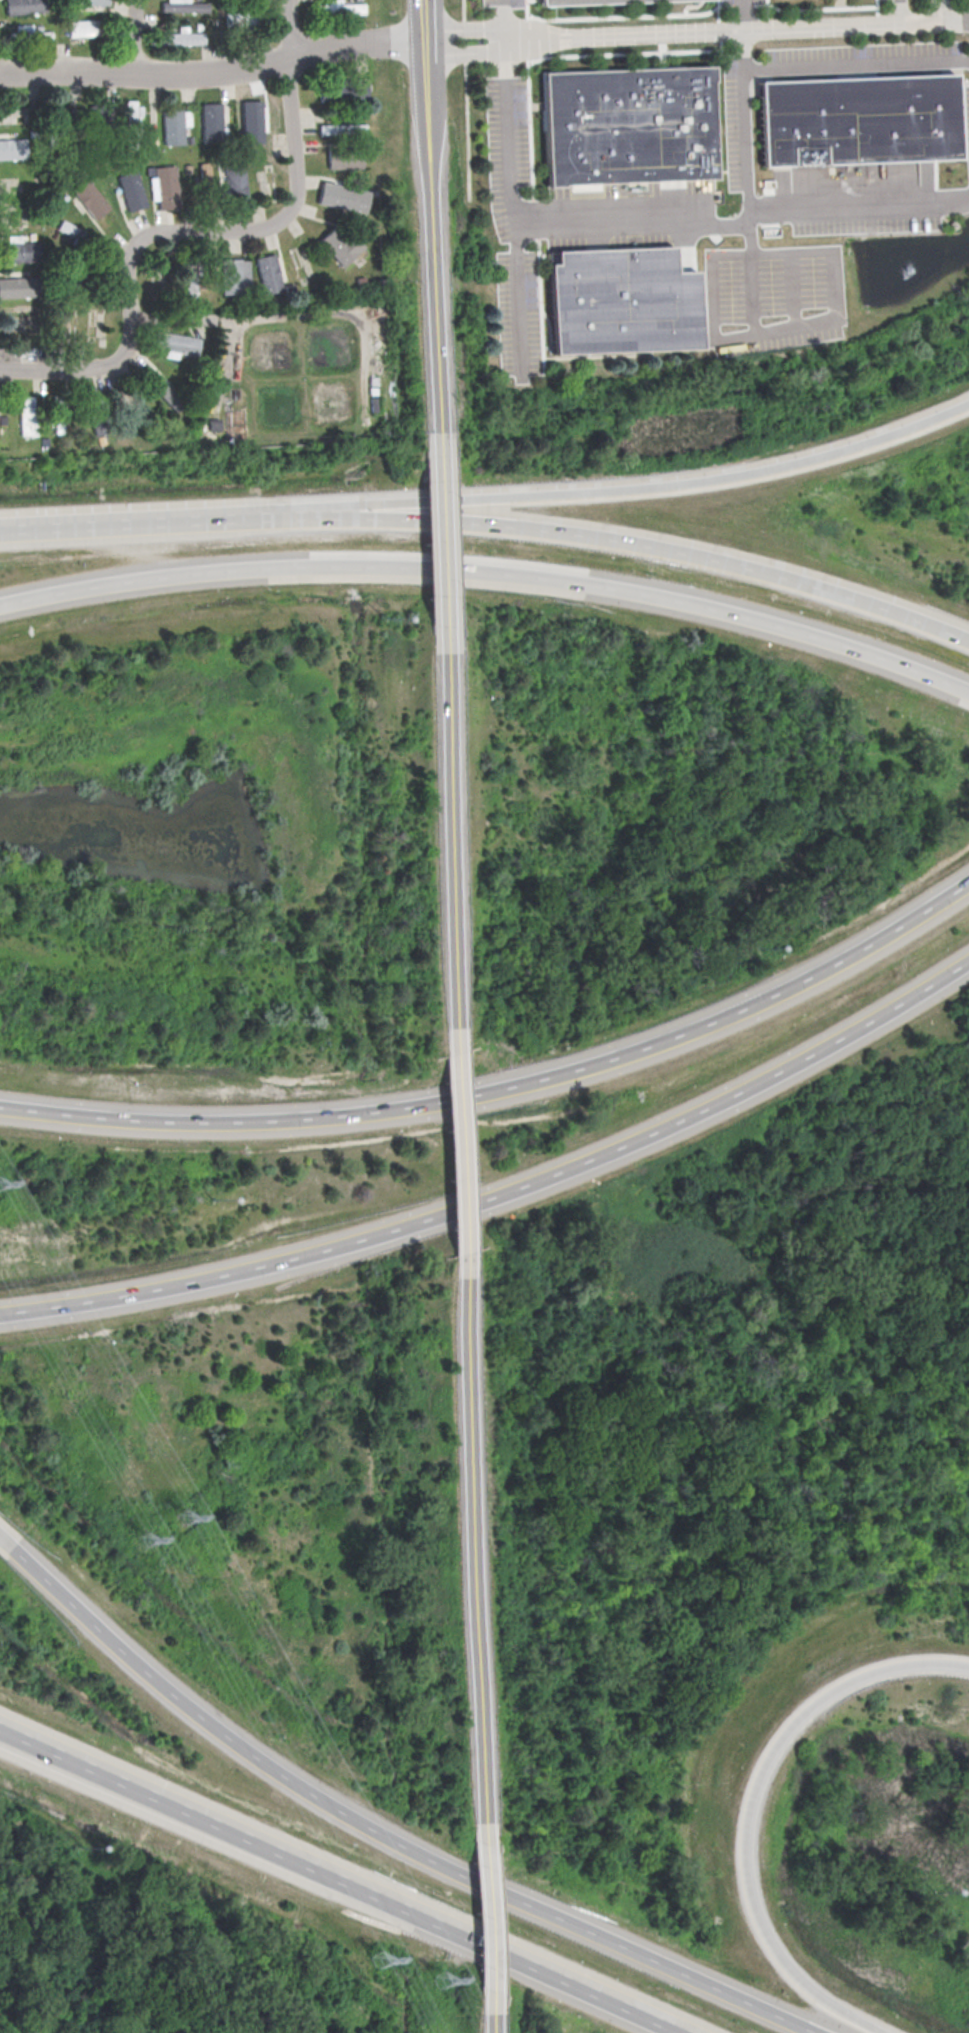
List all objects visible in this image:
building: (88, 2)
building: (592, 2)
road: (424, 3)
building: (517, 3)
building: (24, 6)
building: (184, 6)
road: (942, 11)
road: (900, 12)
road: (743, 15)
building: (238, 20)
road: (504, 20)
road: (956, 22)
road: (425, 24)
building: (83, 27)
road: (467, 27)
road: (293, 28)
road: (723, 30)
road: (136, 37)
building: (184, 37)
road: (467, 52)
road: (857, 65)
road: (214, 72)
building: (344, 90)
road: (467, 99)
road: (427, 108)
building: (98, 112)
building: (133, 112)
building: (212, 121)
building: (252, 121)
building: (855, 121)
building: (173, 126)
building: (625, 128)
building: (342, 129)
building: (13, 148)
building: (345, 160)
building: (236, 181)
building: (167, 187)
building: (132, 190)
building: (343, 197)
building: (91, 198)
road: (513, 208)
road: (799, 210)
road: (725, 224)
road: (222, 230)
building: (338, 244)
building: (22, 251)
building: (268, 273)
building: (235, 275)
building: (191, 282)
building: (16, 287)
road: (793, 290)
road: (434, 303)
building: (617, 303)
road: (327, 311)
road: (171, 318)
road: (786, 330)
building: (176, 344)
road: (49, 371)
building: (162, 389)
building: (97, 401)
building: (28, 415)
building: (59, 419)
building: (99, 425)
road: (637, 487)
road: (148, 521)
road: (639, 543)
road: (442, 545)
road: (491, 571)
road: (450, 841)
road: (506, 1089)
road: (462, 1153)
road: (504, 1191)
power tower: (180, 1516)
road: (478, 1523)
power tower: (143, 1540)
road: (6, 1544)
road: (190, 1707)
road: (747, 1804)
road: (269, 1808)
road: (195, 1812)
road: (398, 1841)
road: (494, 1900)
road: (401, 1905)
road: (613, 1940)
power tower: (378, 1960)
road: (548, 1971)
power tower: (444, 1981)

